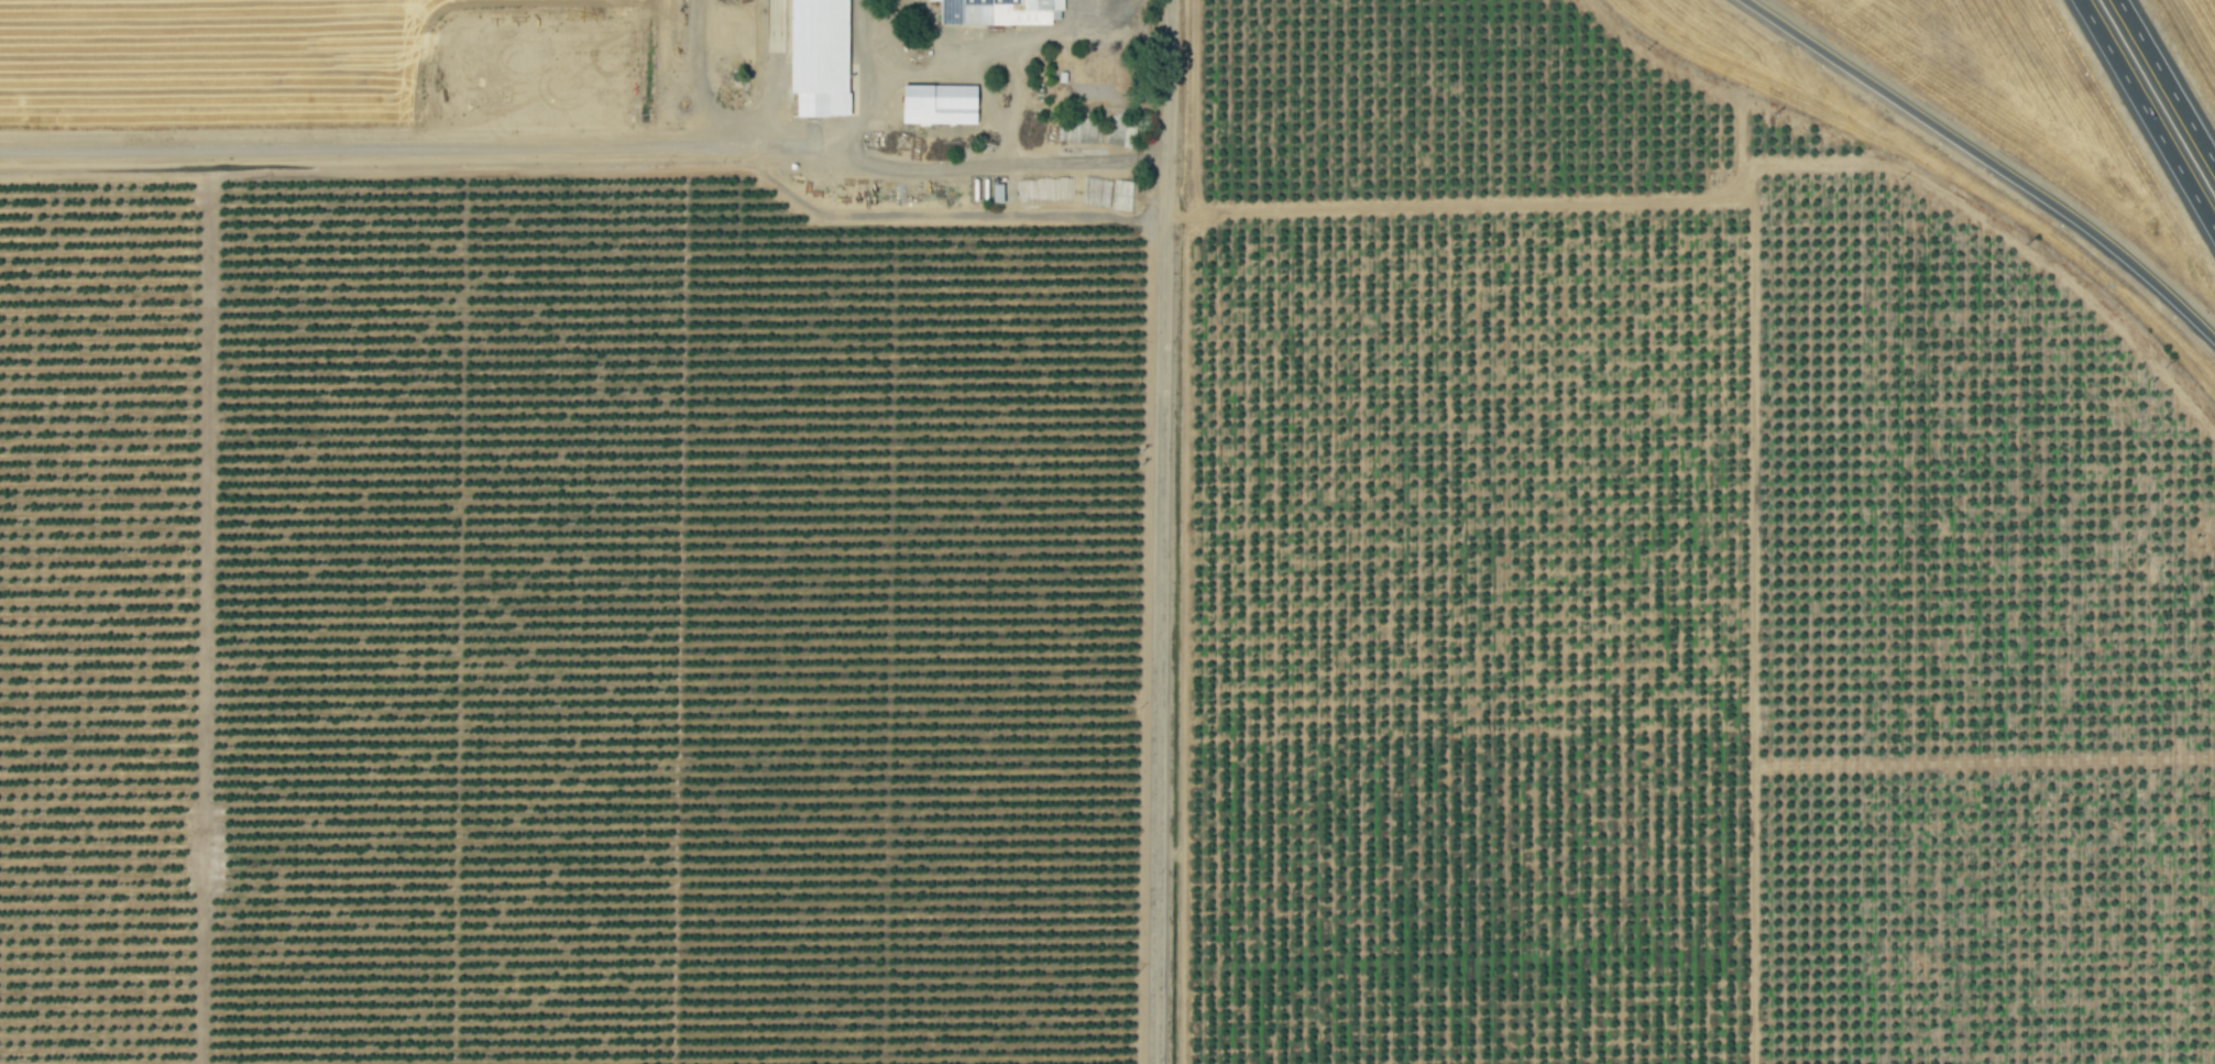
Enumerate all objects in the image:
building: (998, 12)
road: (868, 40)
crop: (210, 54)
building: (820, 57)
road: (955, 65)
road: (699, 72)
road: (2165, 83)
road: (1012, 101)
building: (939, 105)
road: (2147, 116)
road: (424, 144)
road: (1985, 161)
road: (1002, 162)
road: (1161, 531)

